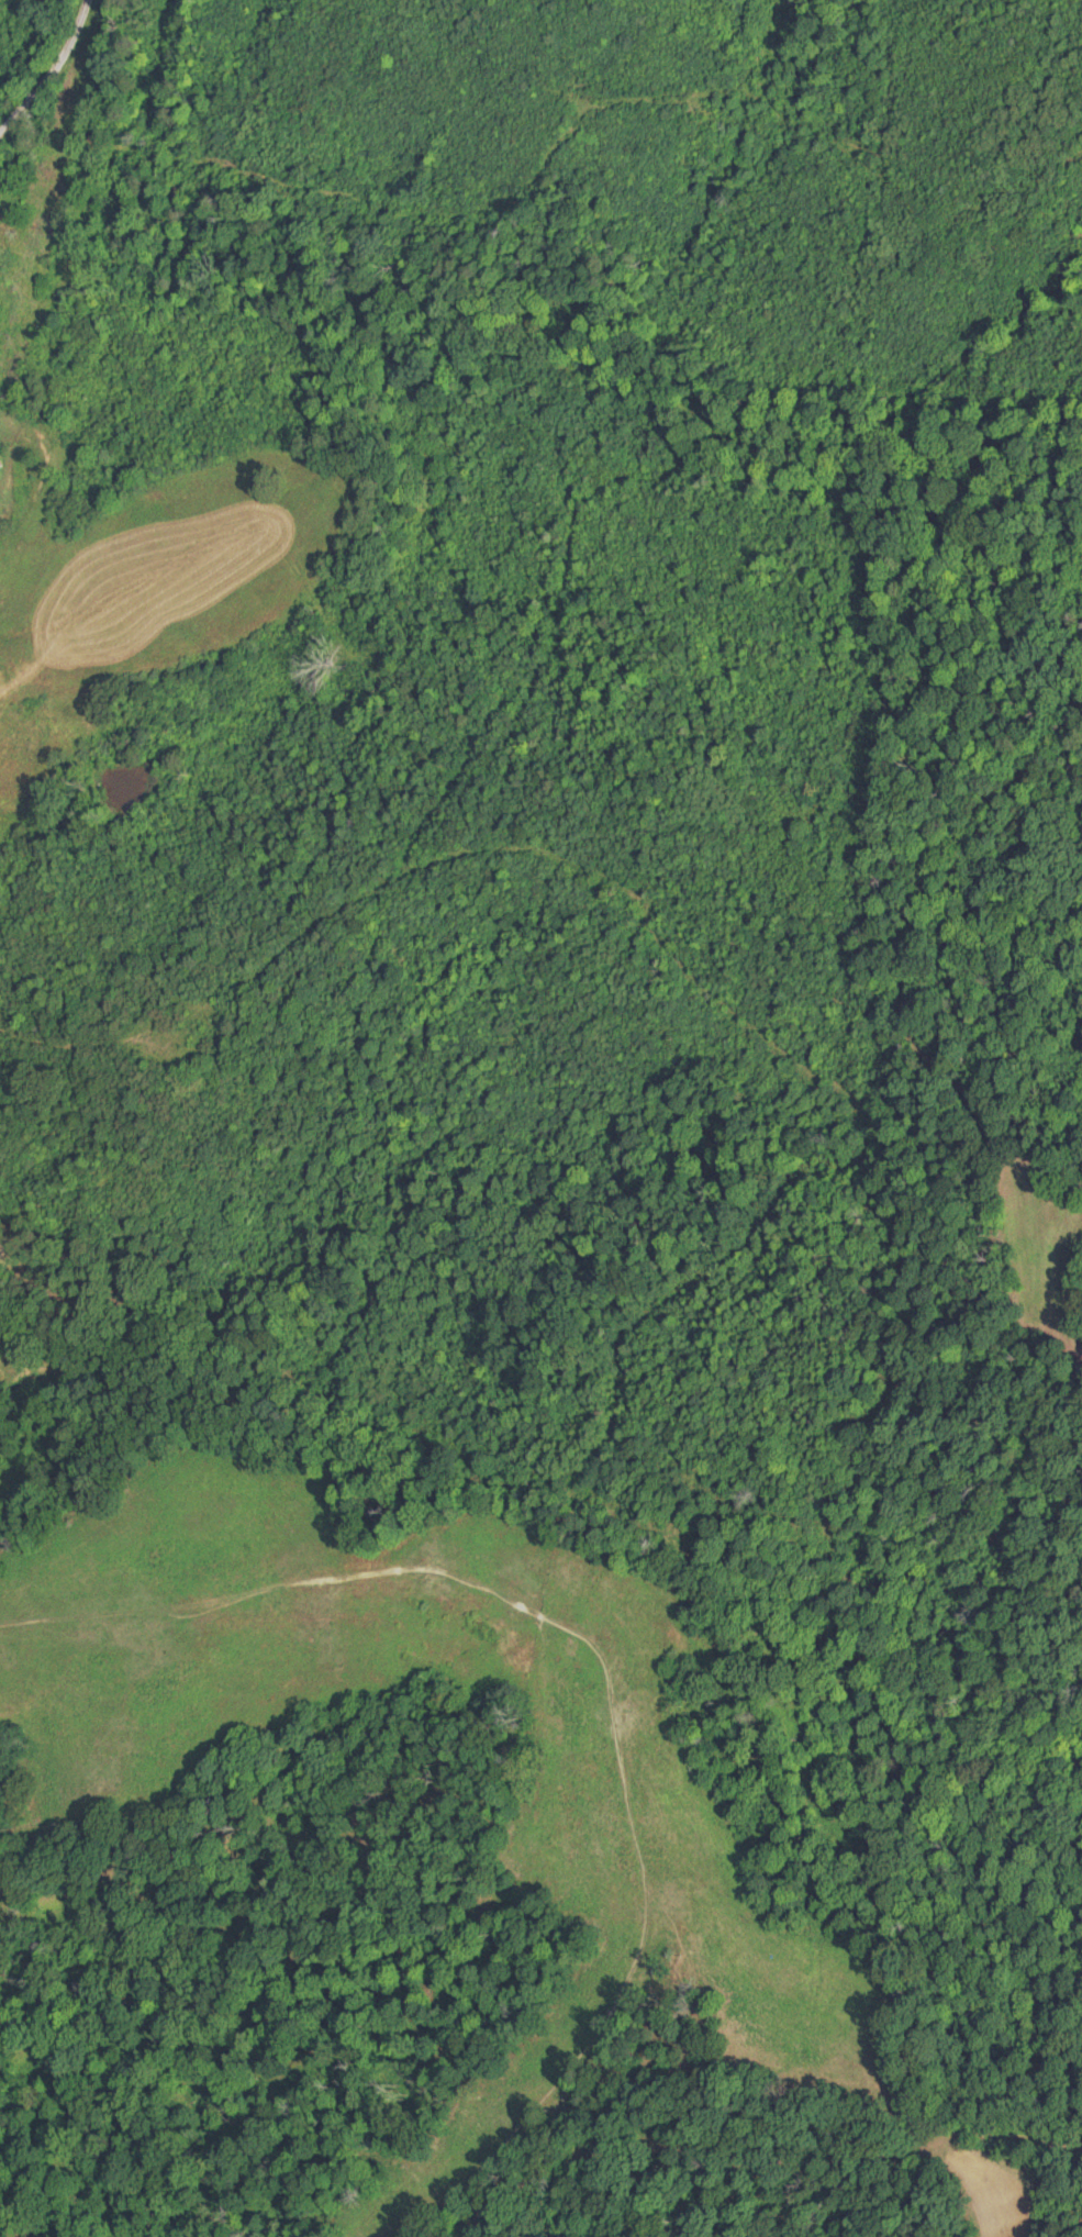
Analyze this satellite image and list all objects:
road: (68, 127)

